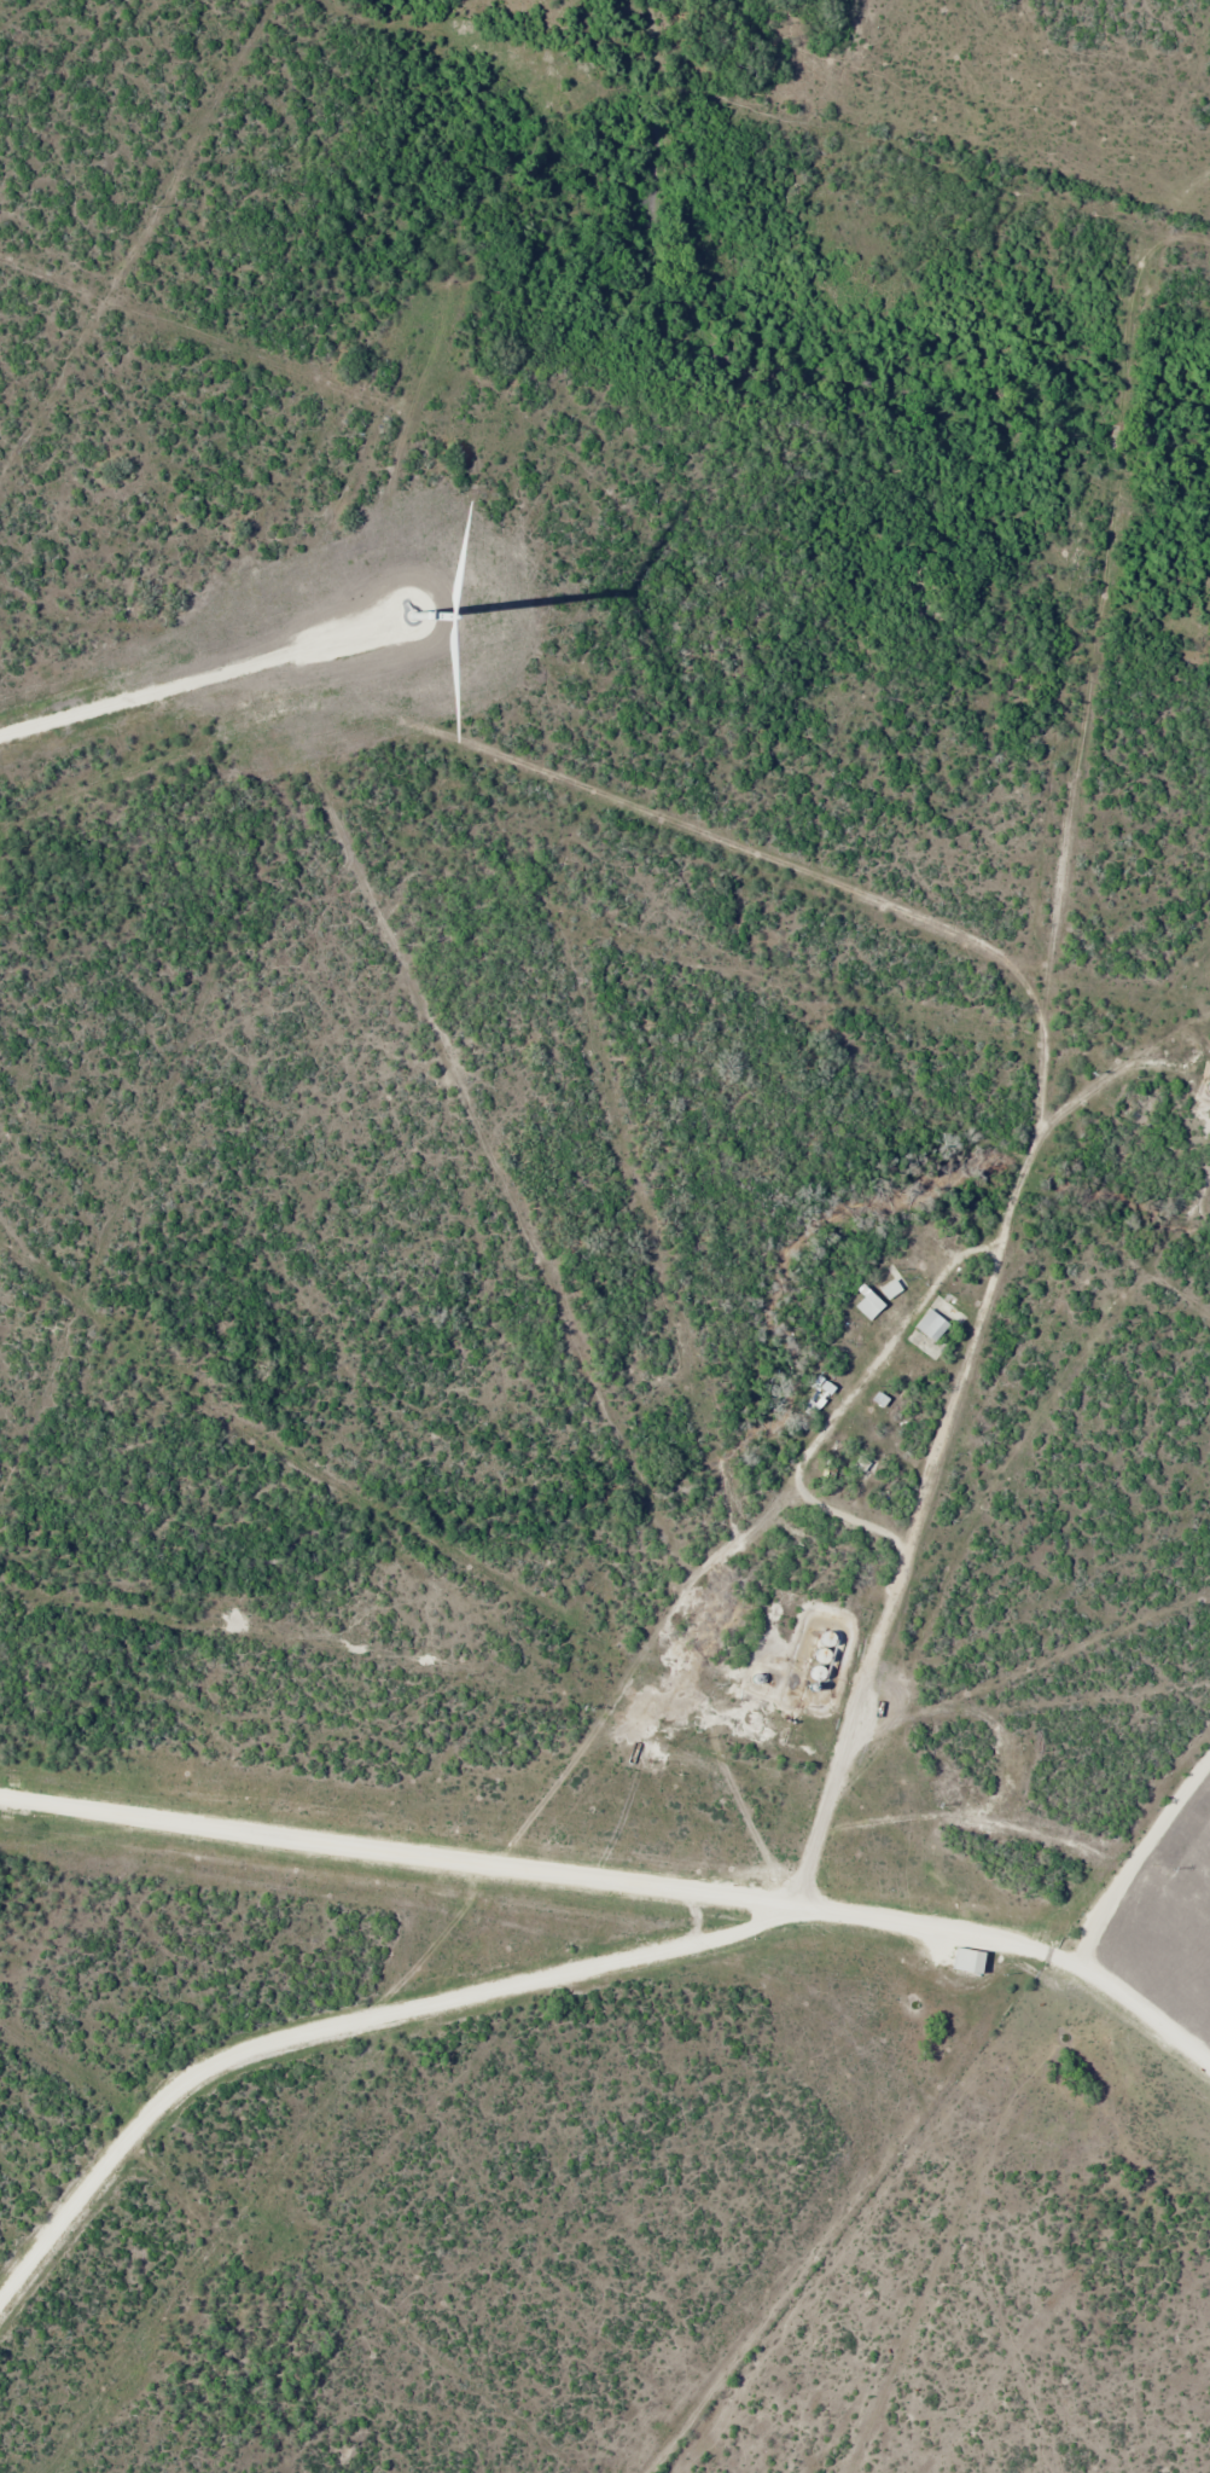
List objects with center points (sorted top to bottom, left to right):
road: (1180, 224)
wind turbine: (418, 606)
road: (1036, 1032)
building: (895, 1285)
building: (872, 1305)
building: (932, 1334)
building: (909, 1368)
building: (821, 1397)
road: (622, 1881)
building: (972, 1961)
road: (351, 2025)

